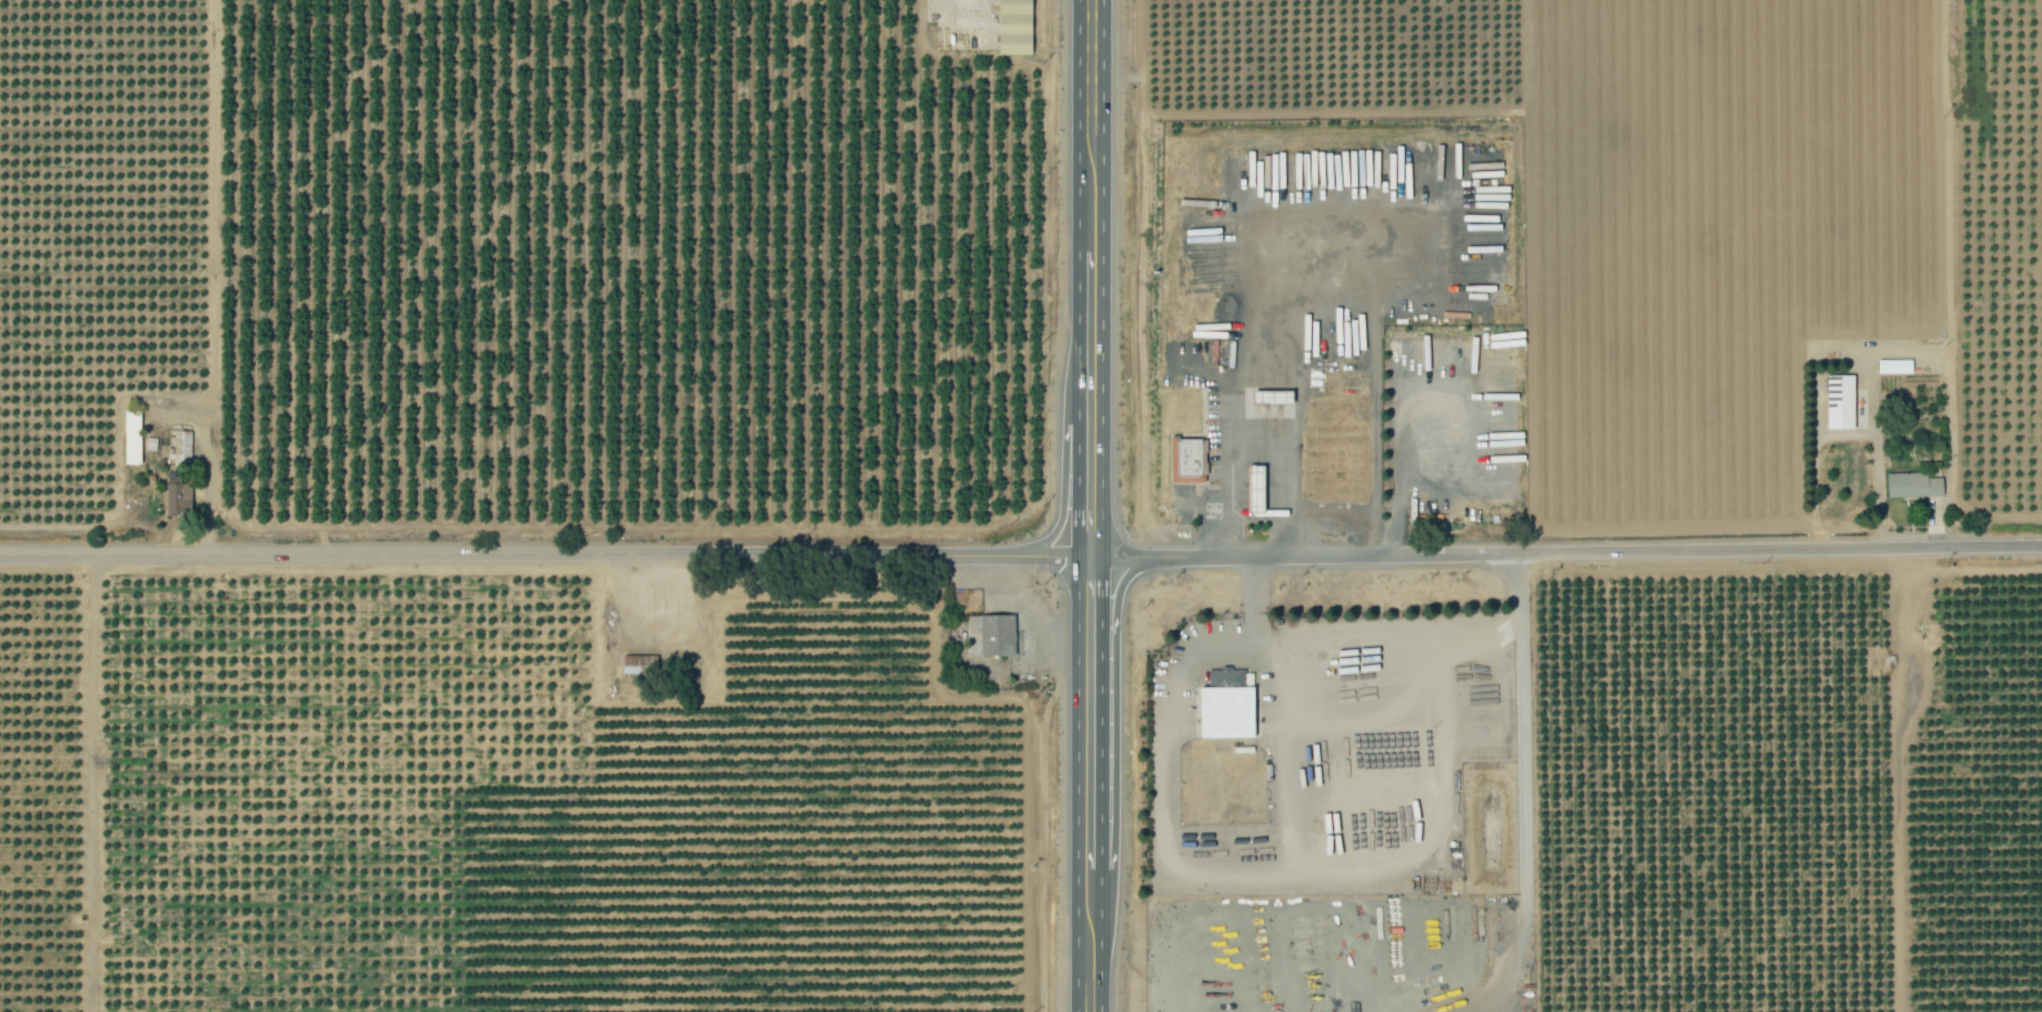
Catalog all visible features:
building: (1014, 27)
road: (1089, 81)
road: (1089, 278)
building: (1272, 397)
building: (1840, 402)
road: (1257, 429)
building: (131, 438)
building: (181, 445)
building: (1186, 460)
road: (1062, 476)
road: (1089, 476)
building: (1914, 485)
building: (1255, 490)
building: (177, 498)
road: (1344, 509)
road: (1598, 548)
road: (517, 555)
road: (1094, 557)
road: (1377, 651)
building: (638, 665)
building: (1227, 704)
road: (1359, 726)
road: (1113, 733)
road: (1088, 739)
road: (1289, 762)
road: (1524, 823)
road: (1256, 871)
road: (1197, 963)
road: (1088, 967)

